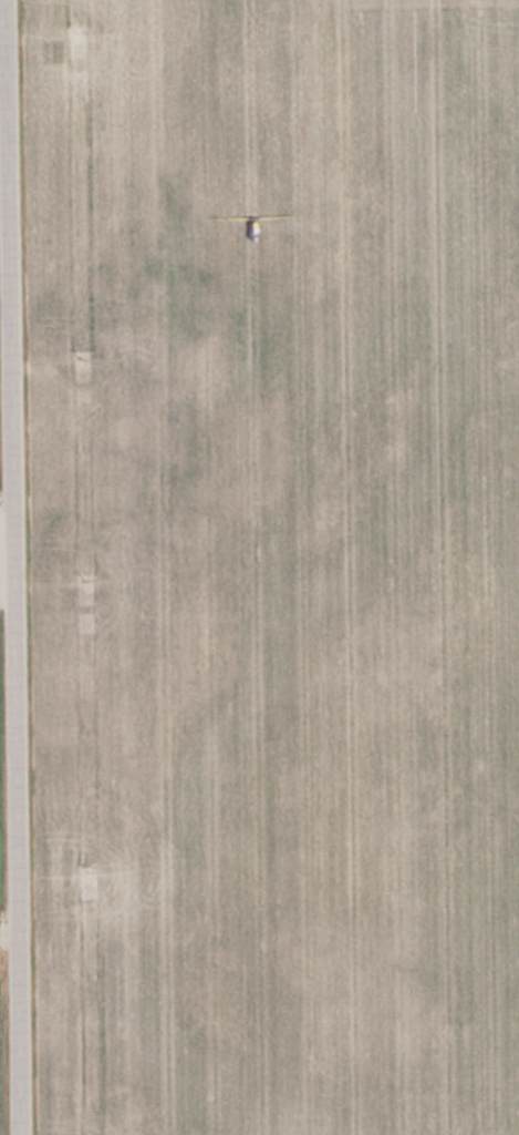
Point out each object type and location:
road: (15, 567)

